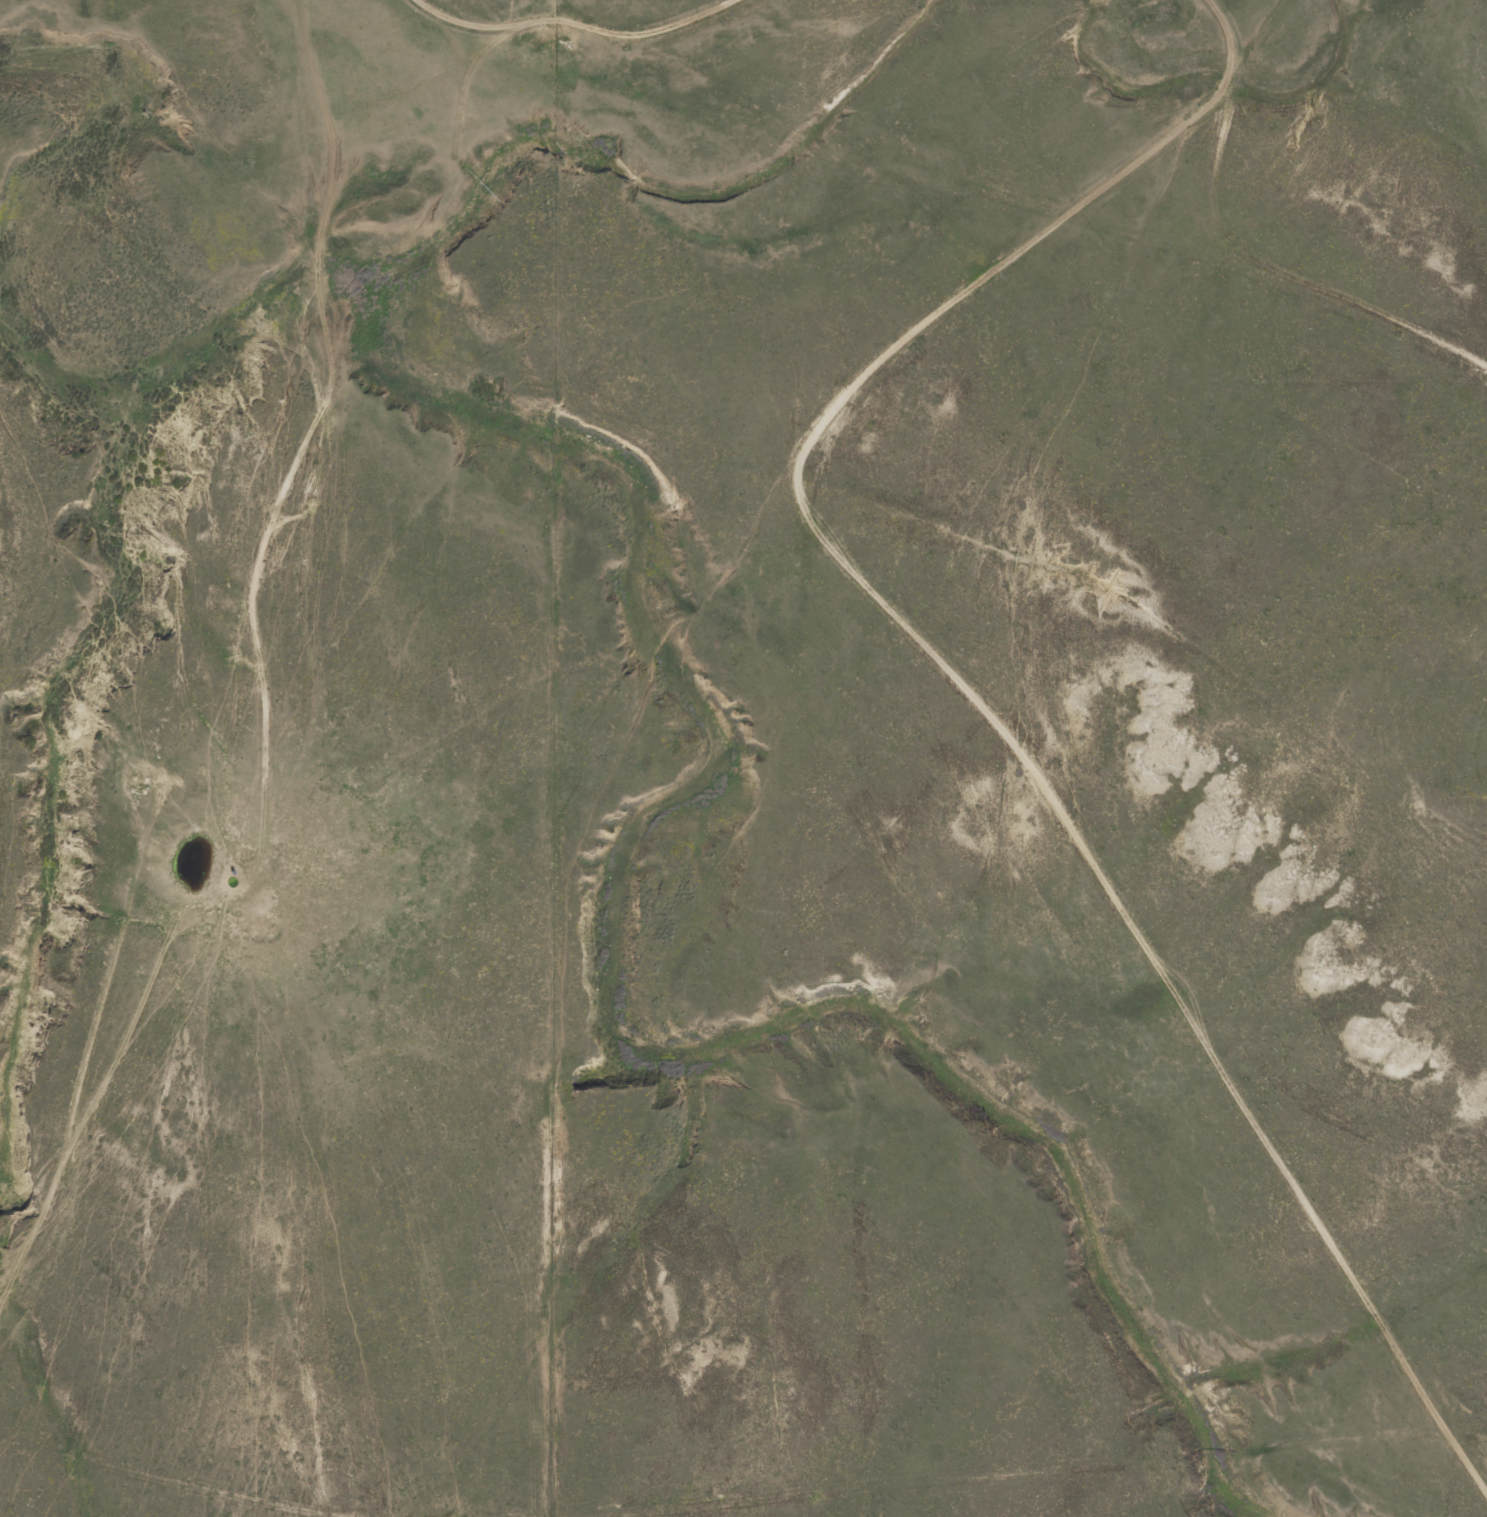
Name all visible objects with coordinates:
road: (575, 68)
road: (976, 688)
road: (107, 1130)

